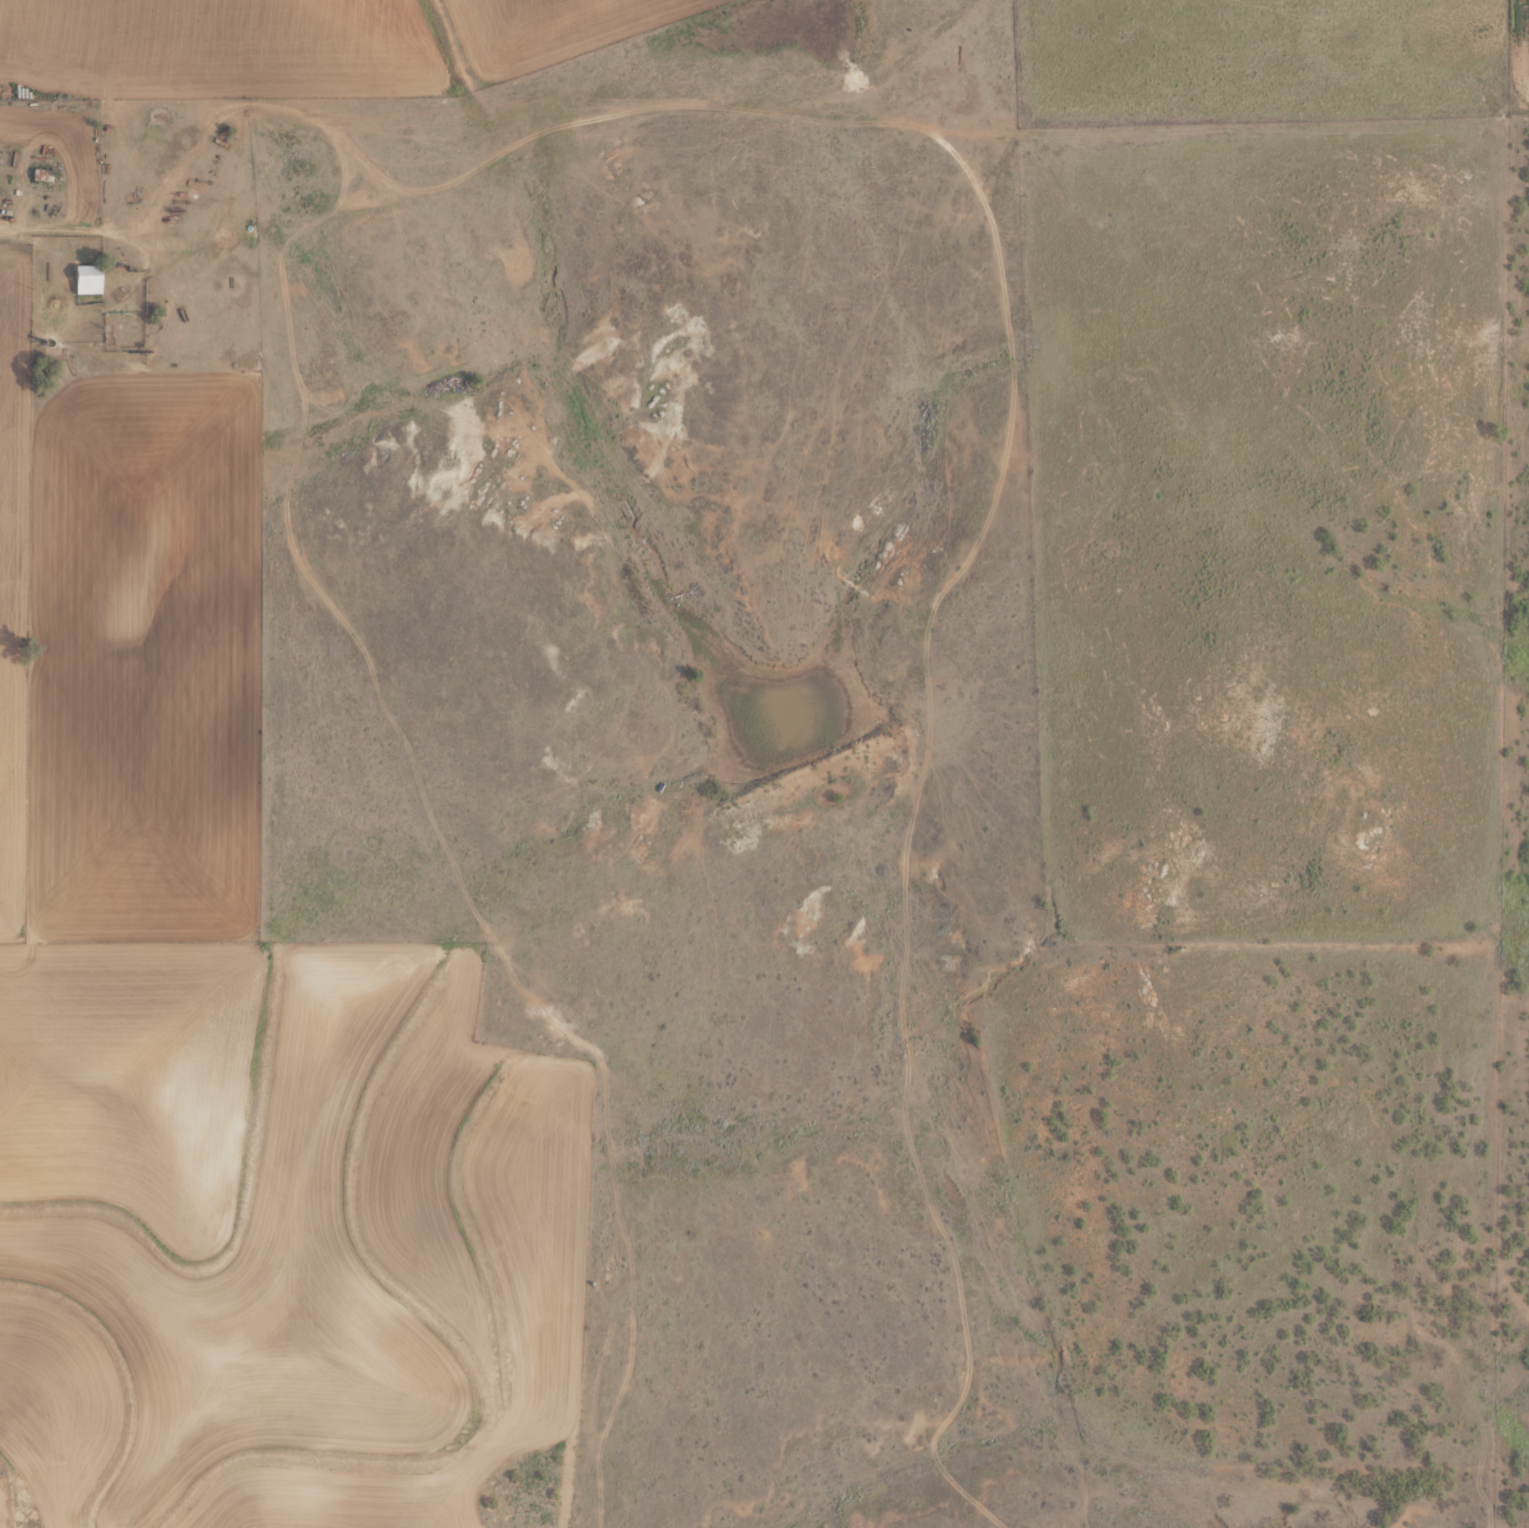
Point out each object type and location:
road: (746, 126)
building: (44, 176)
building: (89, 281)

